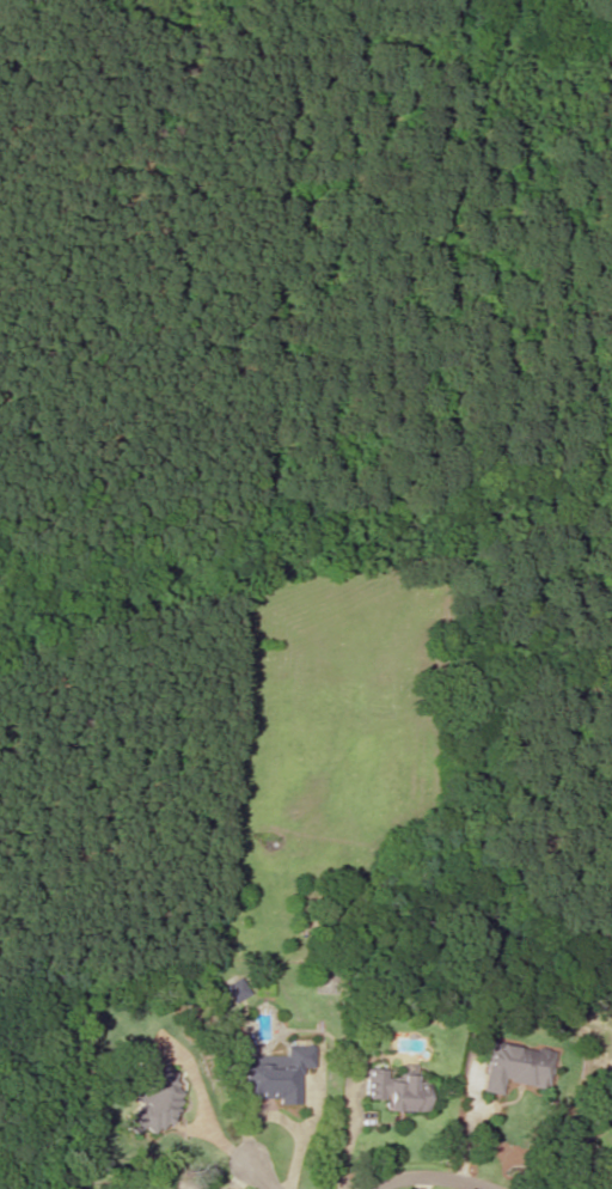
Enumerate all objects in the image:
building: (237, 989)
building: (515, 1067)
building: (277, 1074)
building: (396, 1091)
building: (154, 1096)
road: (429, 1177)

